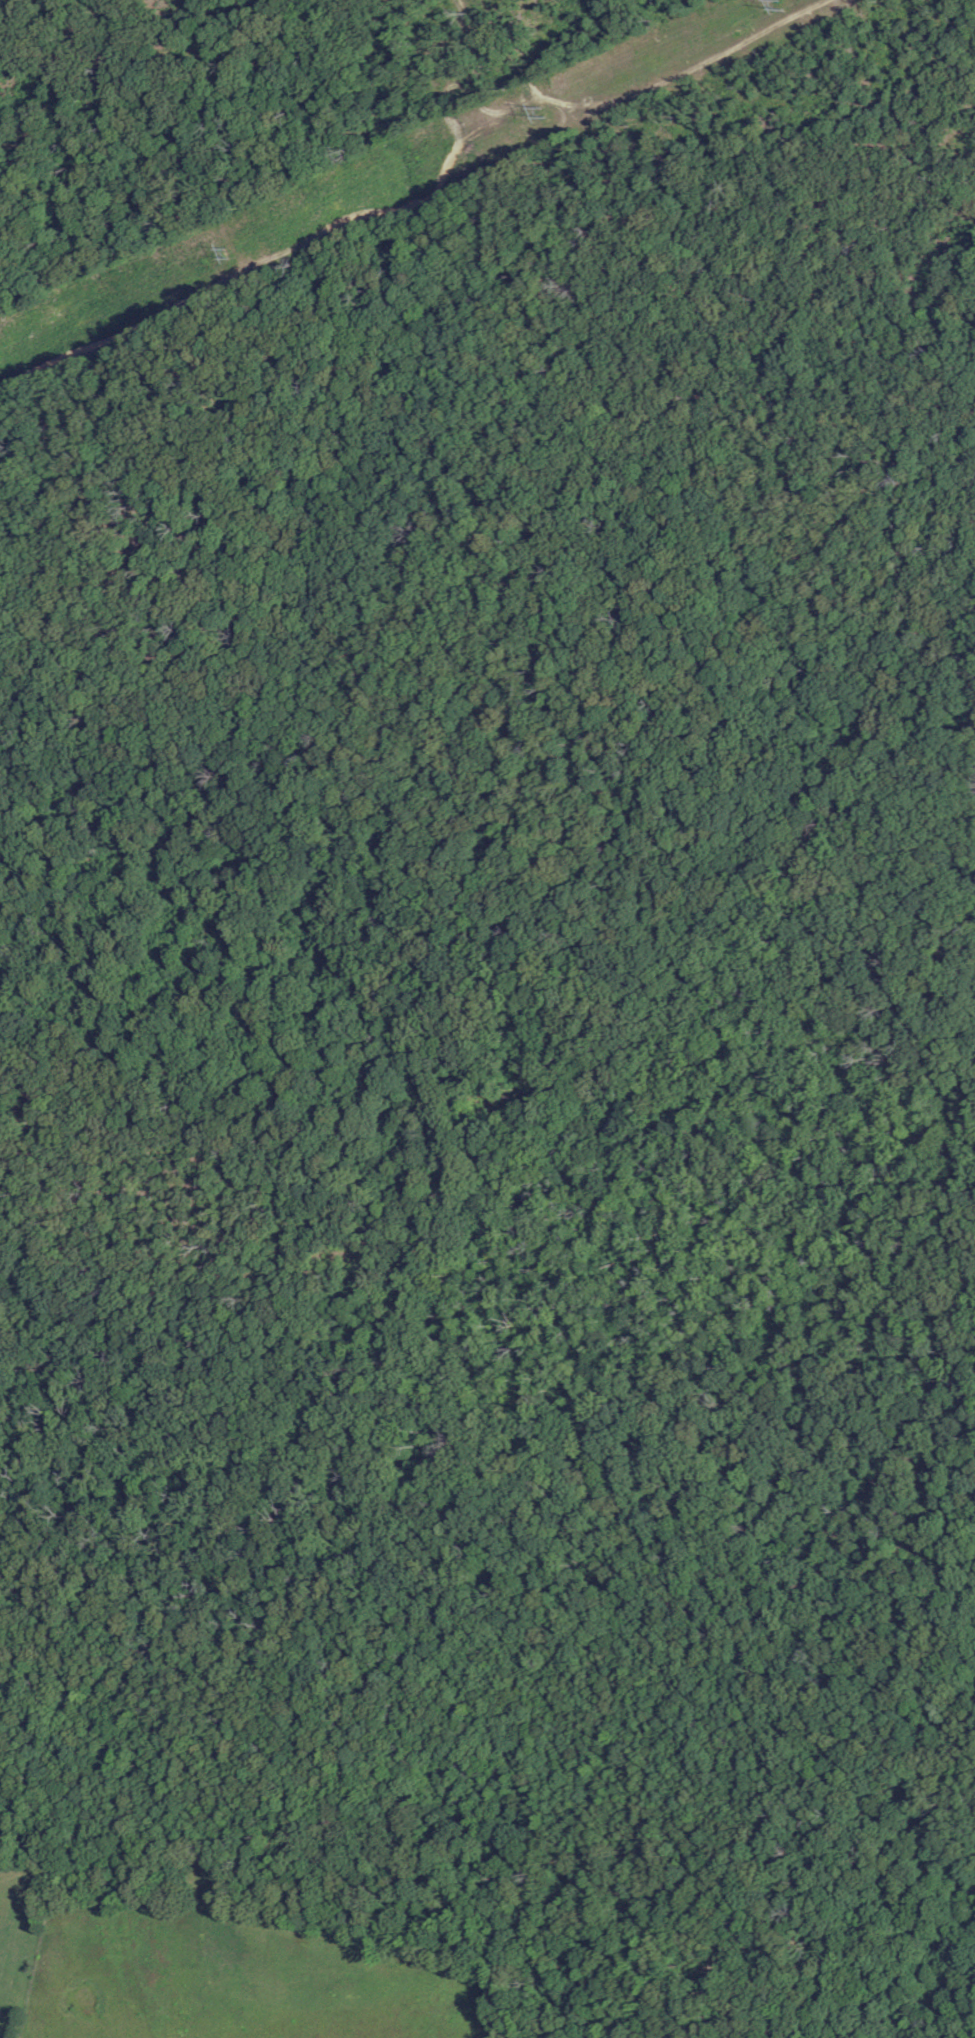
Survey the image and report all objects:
road: (436, 193)

